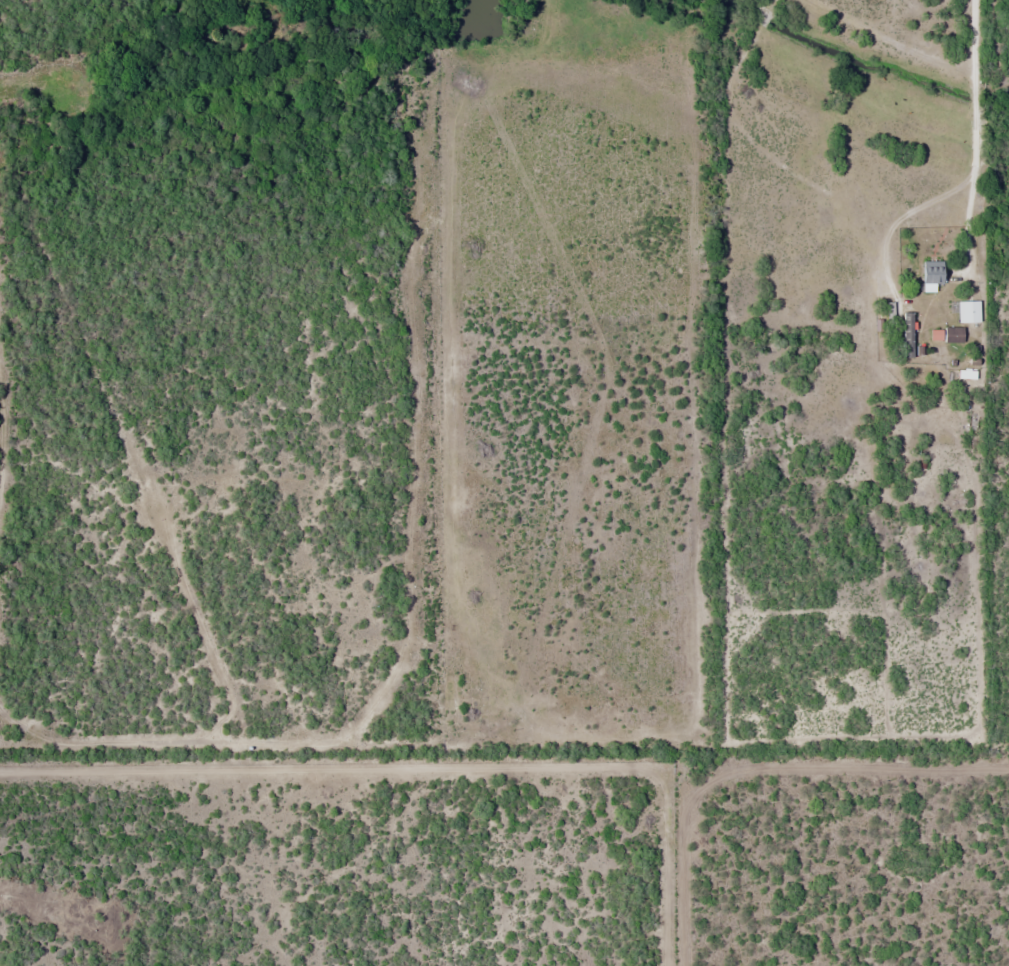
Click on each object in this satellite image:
road: (975, 134)
building: (930, 271)
building: (967, 310)
building: (907, 334)
building: (952, 334)
building: (966, 373)

